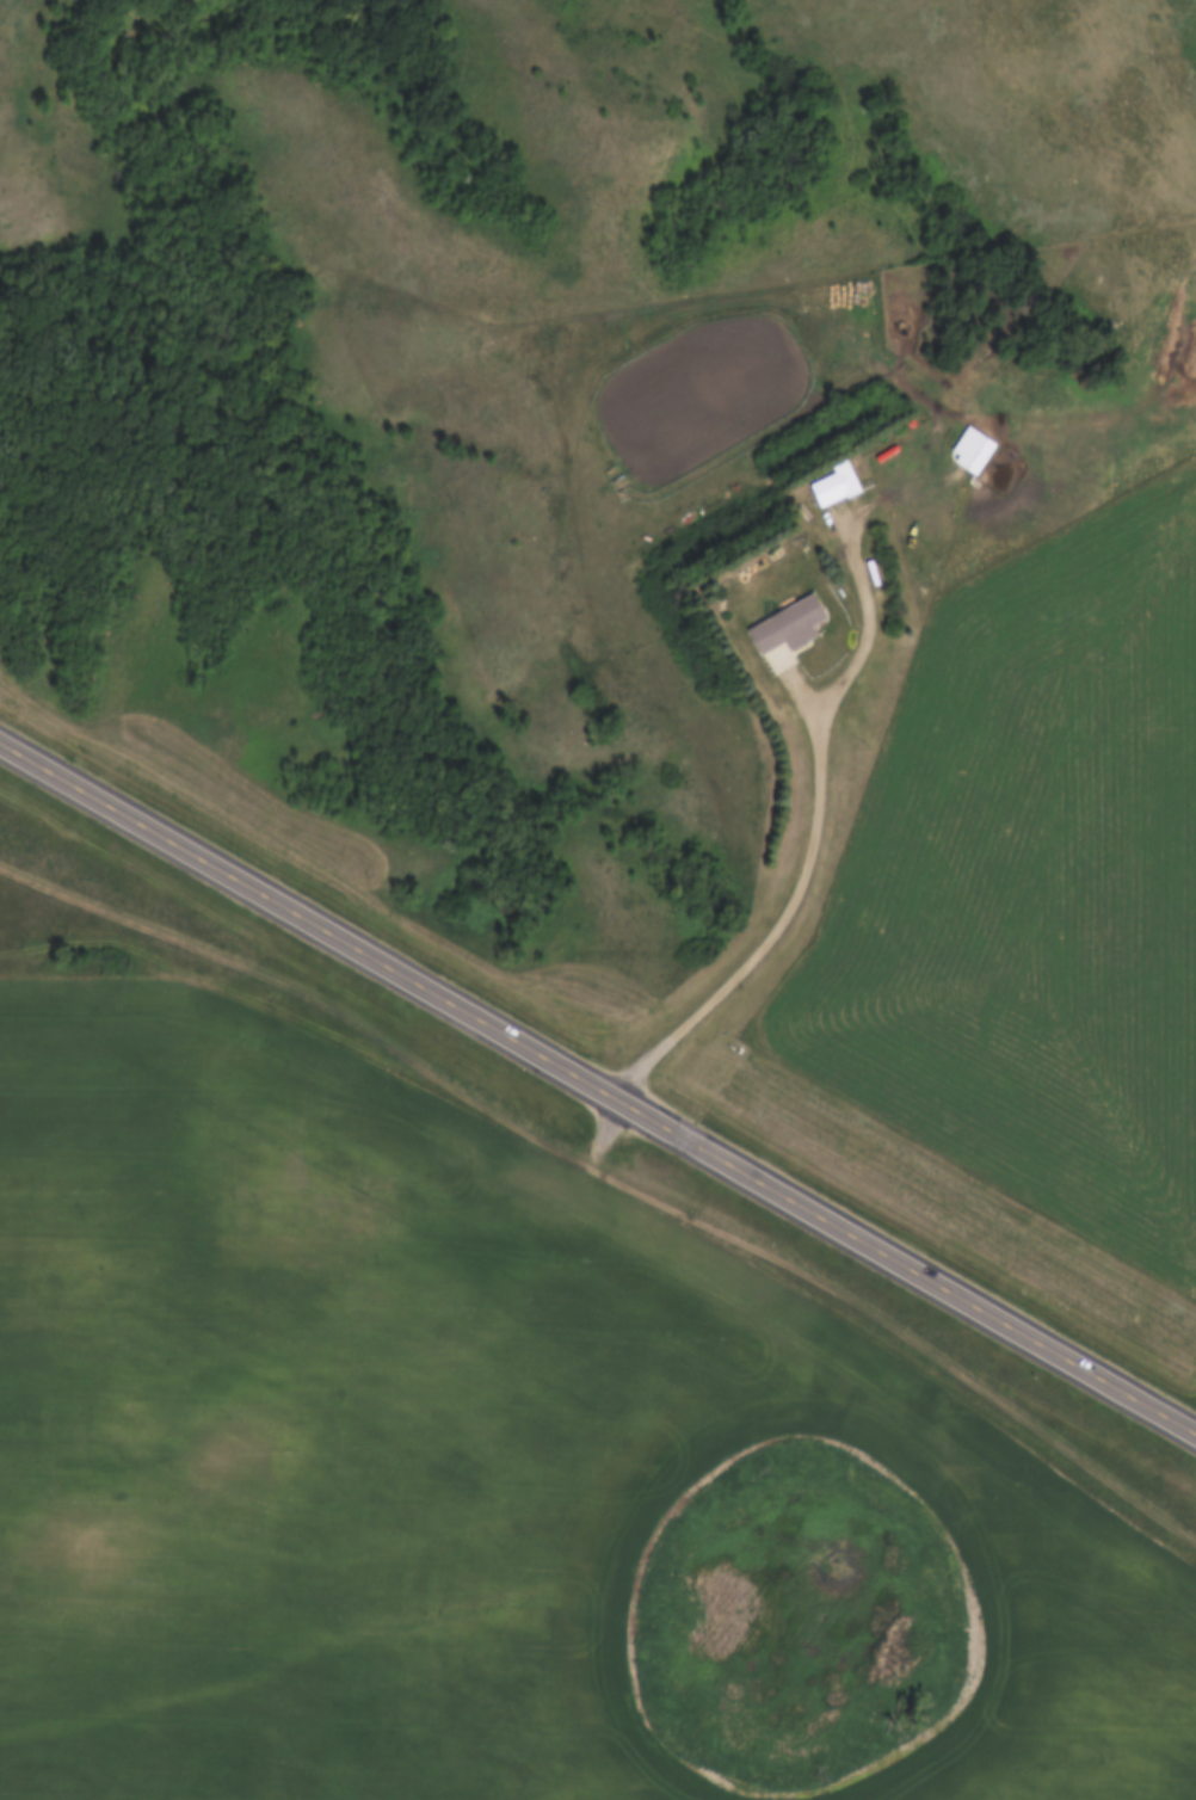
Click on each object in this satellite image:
building: (970, 450)
building: (845, 477)
building: (820, 492)
building: (787, 625)
road: (819, 830)
road: (597, 1085)

